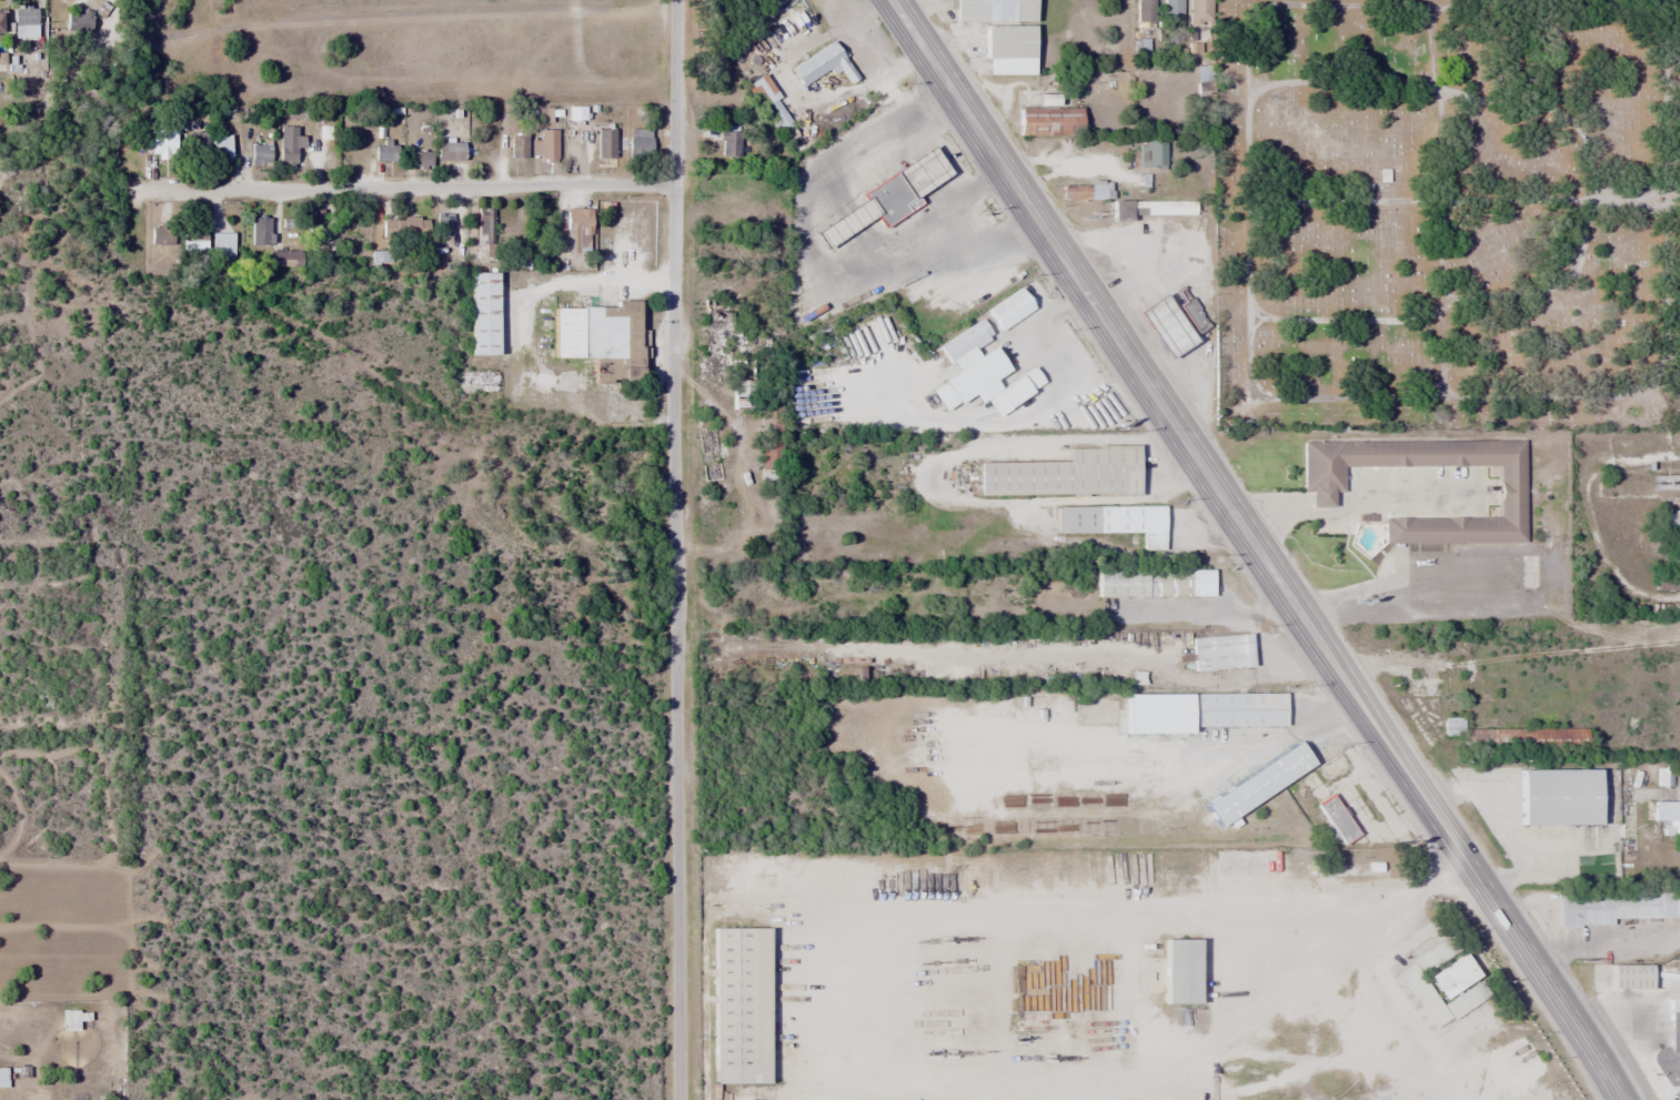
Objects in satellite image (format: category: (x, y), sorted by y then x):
building: (1173, 10)
building: (993, 11)
building: (1145, 12)
building: (1199, 12)
building: (78, 22)
building: (1009, 49)
building: (2, 55)
building: (821, 64)
road: (675, 92)
building: (768, 104)
building: (1049, 121)
building: (198, 141)
building: (605, 143)
building: (638, 143)
building: (547, 144)
building: (728, 144)
building: (288, 147)
building: (221, 149)
building: (384, 151)
building: (449, 151)
building: (421, 159)
road: (408, 186)
road: (1599, 193)
road: (1466, 198)
building: (882, 200)
road: (1440, 201)
building: (1149, 209)
park: (1447, 213)
building: (319, 222)
building: (443, 224)
building: (402, 228)
building: (261, 231)
building: (485, 233)
building: (160, 235)
building: (222, 249)
building: (288, 258)
building: (482, 314)
building: (1194, 315)
building: (1163, 326)
building: (598, 339)
building: (980, 370)
building: (740, 394)
road: (1289, 396)
building: (1064, 474)
building: (1510, 499)
building: (1113, 521)
building: (1670, 527)
road: (1257, 548)
building: (1669, 577)
building: (1154, 583)
road: (676, 642)
building: (1221, 652)
building: (1200, 710)
building: (1509, 735)
building: (1663, 776)
building: (1257, 783)
building: (1557, 796)
building: (1367, 801)
building: (1668, 814)
building: (1335, 821)
building: (1613, 906)
building: (1289, 959)
building: (1179, 970)
building: (1629, 976)
building: (1447, 989)
building: (738, 1005)
building: (72, 1018)
building: (1670, 1047)
building: (3, 1077)
building: (1559, 1092)

